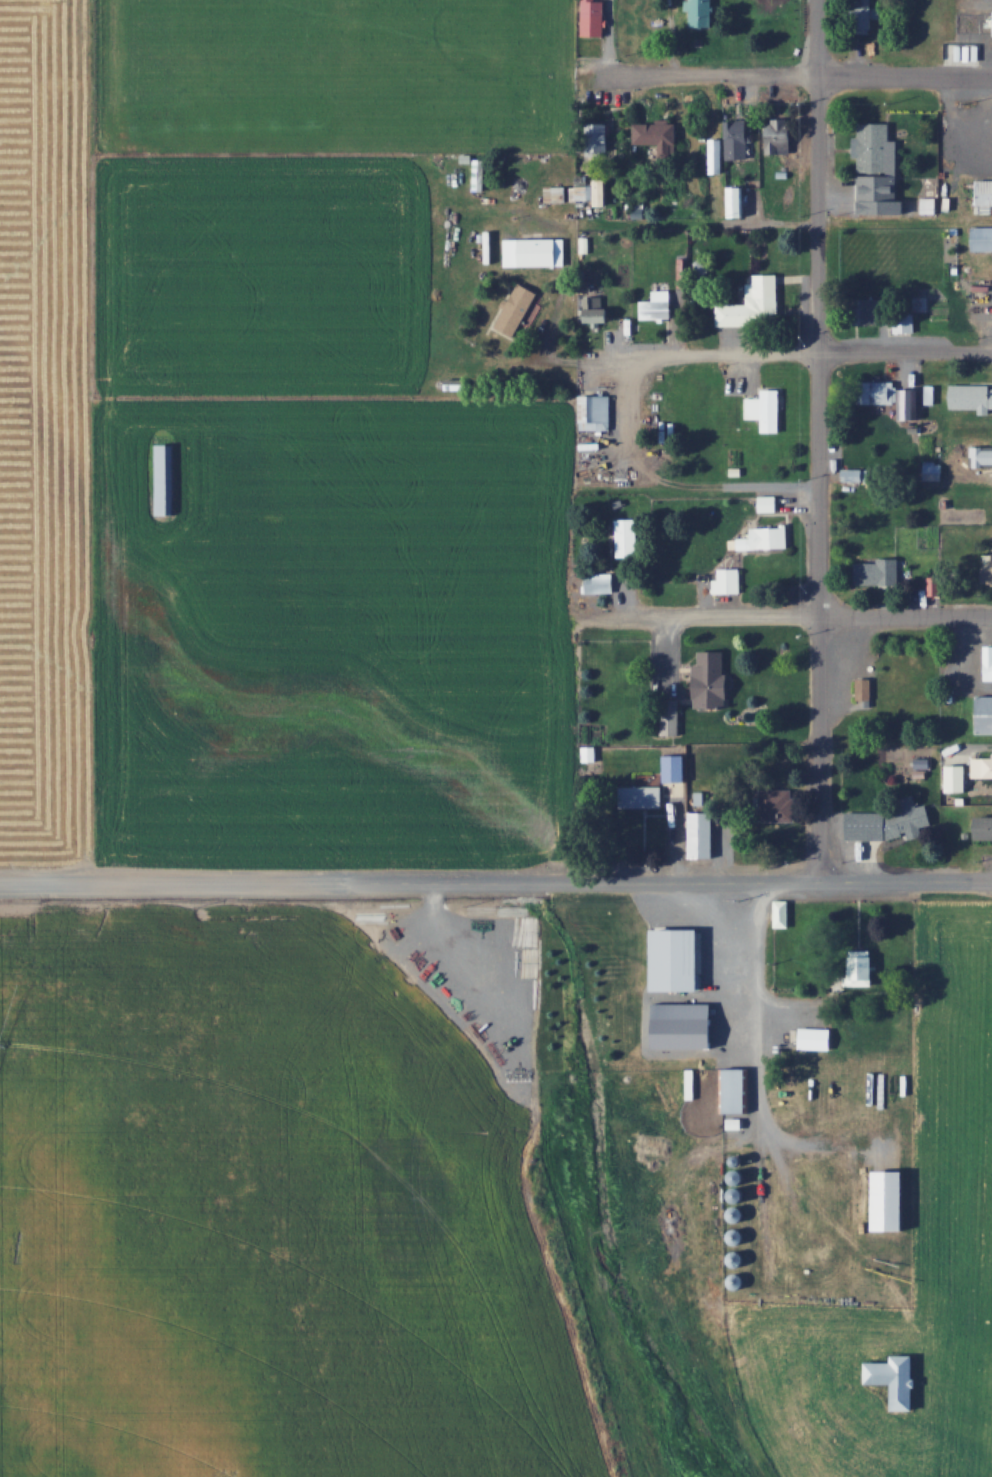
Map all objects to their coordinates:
building: (701, 12)
building: (862, 16)
building: (594, 17)
road: (797, 78)
building: (656, 133)
building: (780, 135)
building: (601, 137)
building: (730, 145)
building: (872, 147)
building: (480, 173)
building: (555, 193)
building: (980, 193)
building: (978, 239)
building: (534, 251)
building: (754, 303)
building: (657, 305)
building: (518, 309)
building: (595, 310)
building: (871, 310)
road: (779, 348)
building: (455, 381)
building: (880, 392)
building: (971, 397)
building: (766, 409)
building: (596, 412)
road: (824, 441)
building: (978, 456)
building: (854, 474)
building: (166, 478)
building: (769, 502)
building: (626, 537)
building: (766, 537)
building: (876, 571)
building: (987, 574)
building: (728, 581)
building: (599, 583)
road: (781, 617)
building: (987, 662)
building: (711, 680)
building: (865, 688)
building: (983, 714)
building: (591, 754)
building: (982, 767)
building: (956, 777)
building: (657, 786)
building: (777, 805)
building: (890, 822)
building: (983, 827)
building: (703, 835)
road: (496, 881)
building: (783, 915)
building: (731, 933)
building: (862, 969)
building: (523, 971)
building: (681, 1036)
building: (816, 1038)
building: (734, 1088)
crop: (952, 1103)
building: (892, 1198)
building: (889, 1376)

